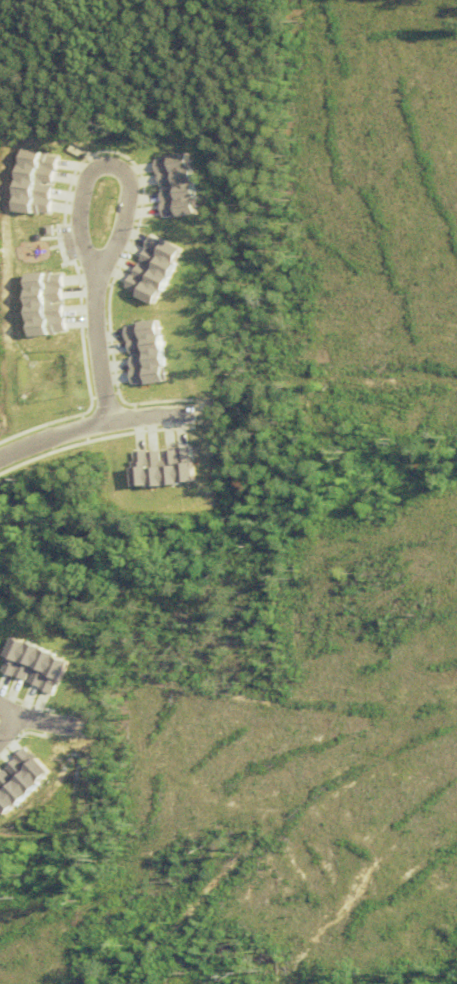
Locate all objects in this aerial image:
road: (103, 167)
road: (99, 400)
road: (23, 722)
road: (6, 725)

